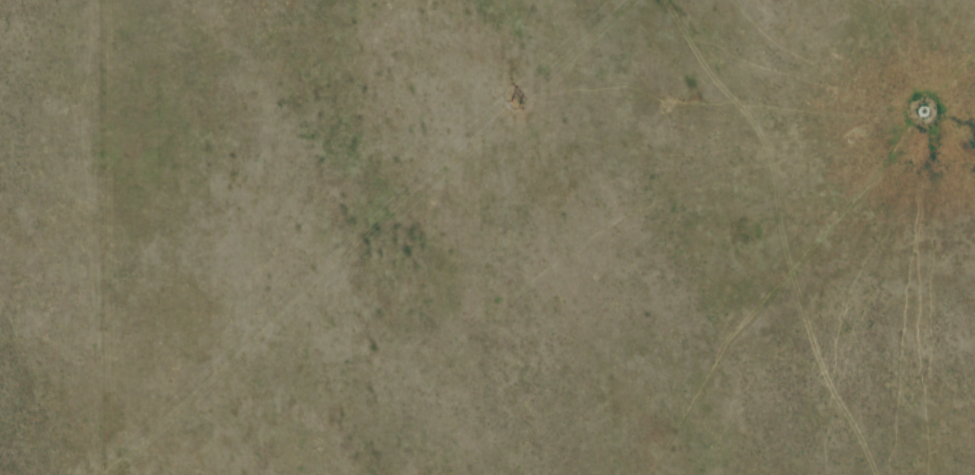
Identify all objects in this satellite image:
power tower: (517, 100)

